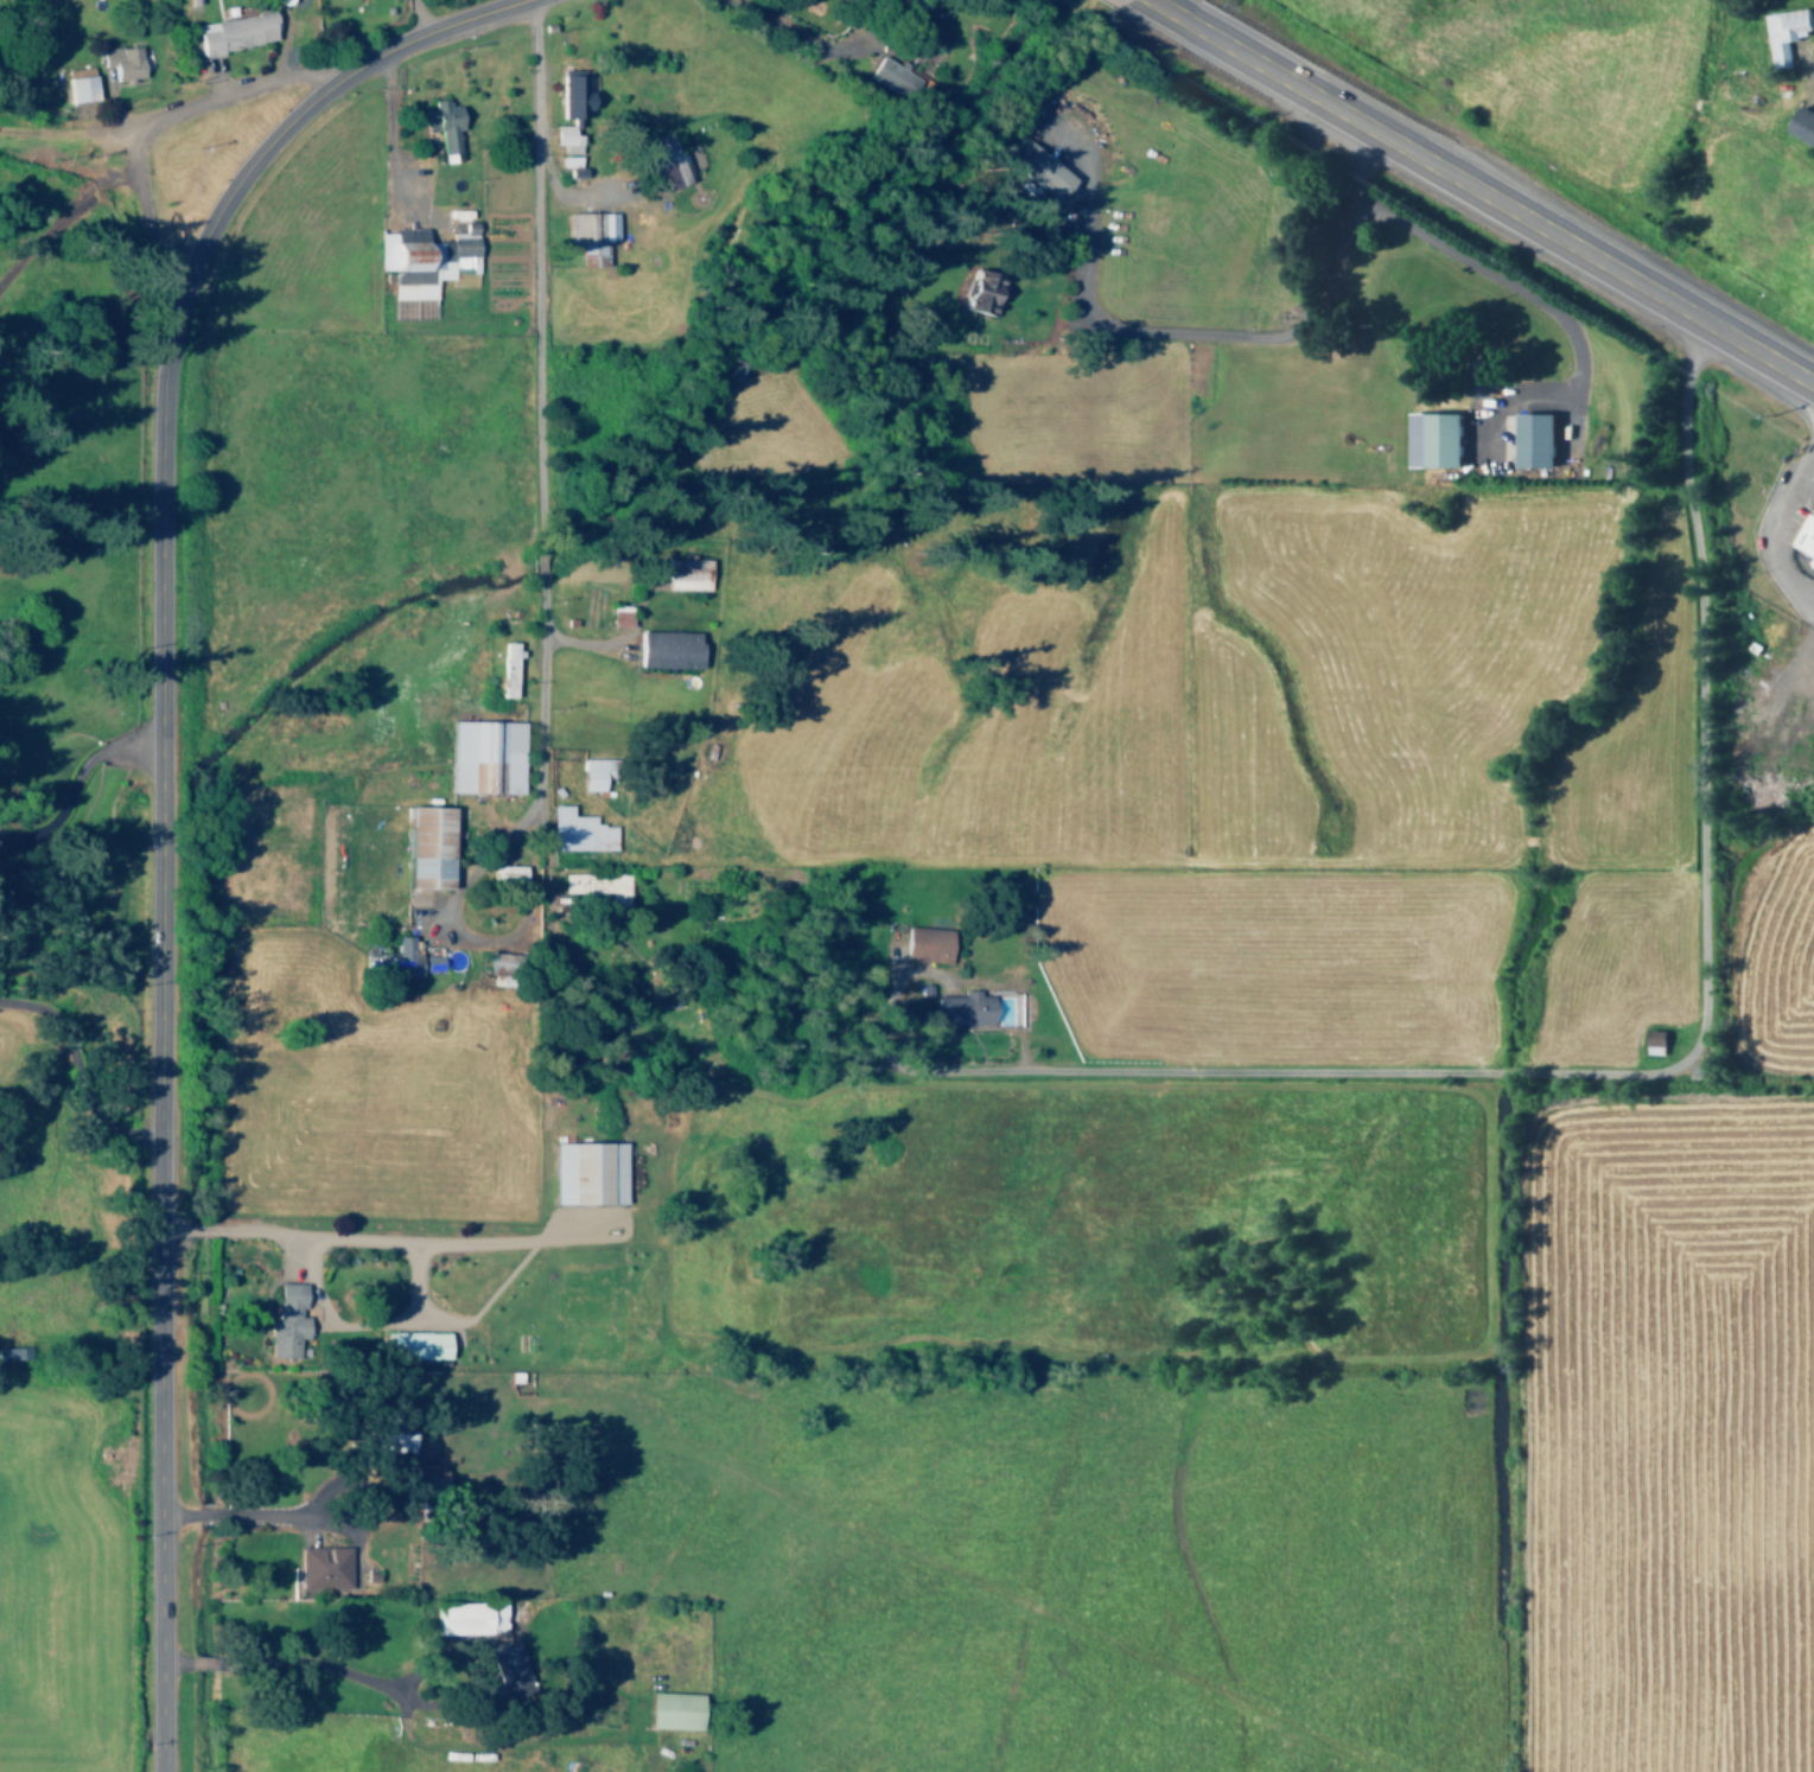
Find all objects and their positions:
road: (420, 15)
road: (776, 26)
building: (233, 32)
building: (1781, 34)
road: (282, 51)
building: (119, 62)
building: (886, 76)
road: (216, 78)
building: (76, 84)
road: (1812, 90)
building: (569, 96)
building: (1801, 126)
building: (440, 127)
road: (145, 132)
road: (79, 133)
road: (387, 136)
building: (562, 138)
building: (662, 160)
building: (1031, 167)
road: (1481, 192)
road: (566, 195)
road: (146, 223)
building: (587, 230)
building: (420, 259)
road: (1490, 276)
building: (976, 292)
road: (1252, 337)
road: (537, 396)
building: (1540, 438)
building: (1431, 439)
building: (1803, 535)
road: (1777, 541)
building: (682, 574)
road: (1805, 595)
building: (616, 616)
road: (585, 648)
building: (663, 649)
building: (483, 757)
building: (588, 773)
road: (71, 783)
road: (159, 796)
building: (574, 830)
building: (422, 848)
building: (503, 875)
building: (591, 882)
road: (470, 944)
building: (923, 944)
building: (394, 960)
building: (427, 963)
building: (960, 1008)
building: (1653, 1041)
road: (1681, 1066)
road: (76, 1073)
building: (591, 1172)
road: (324, 1238)
road: (491, 1242)
road: (289, 1258)
building: (288, 1321)
building: (420, 1344)
crop: (1363, 1445)
road: (240, 1516)
building: (324, 1567)
building: (473, 1619)
road: (282, 1662)
building: (511, 1666)
building: (677, 1710)

